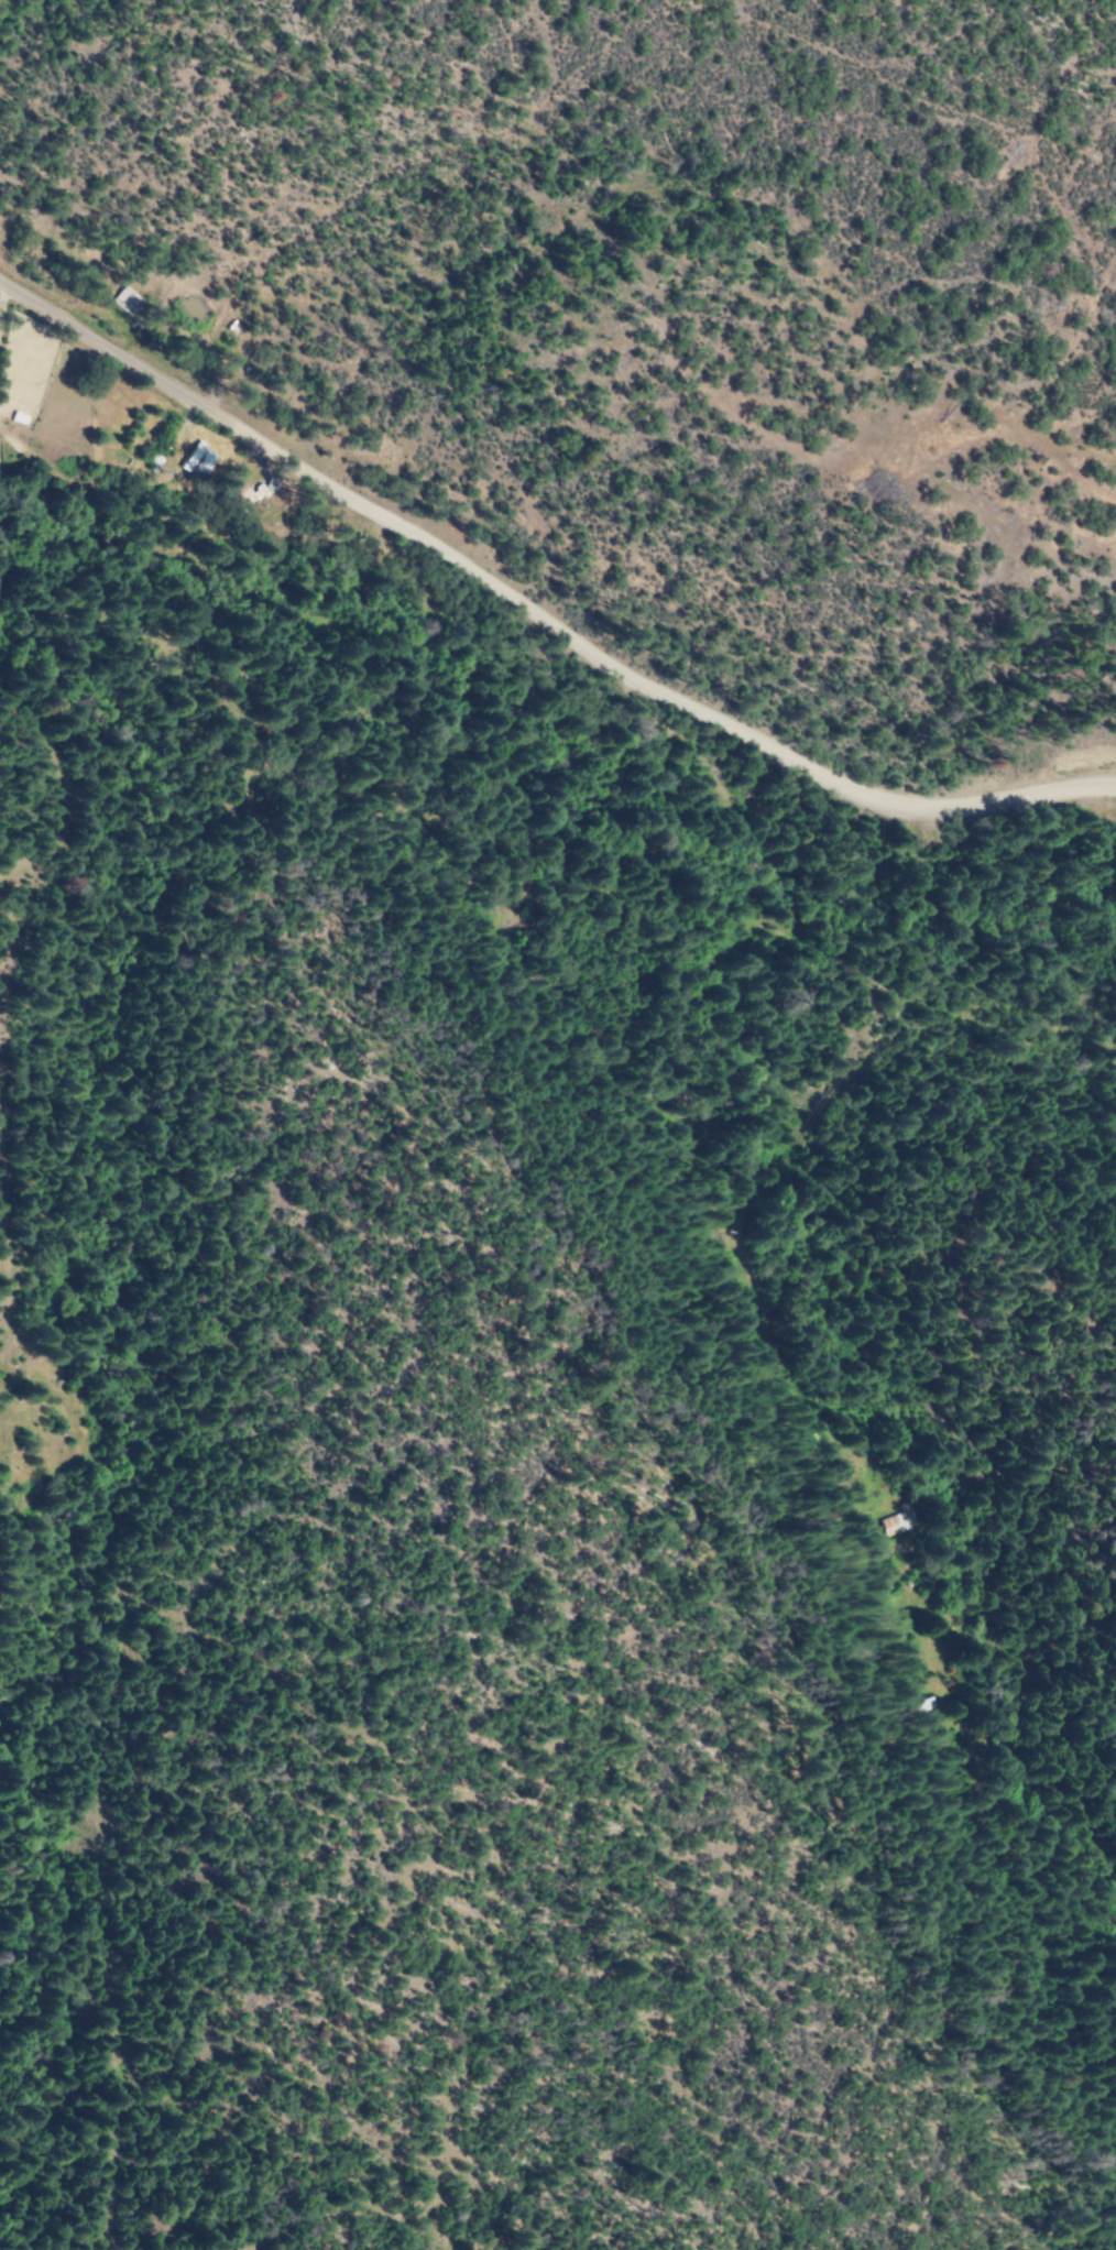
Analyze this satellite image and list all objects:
road: (73, 389)
building: (195, 459)
road: (92, 468)
road: (536, 615)
road: (676, 1322)

